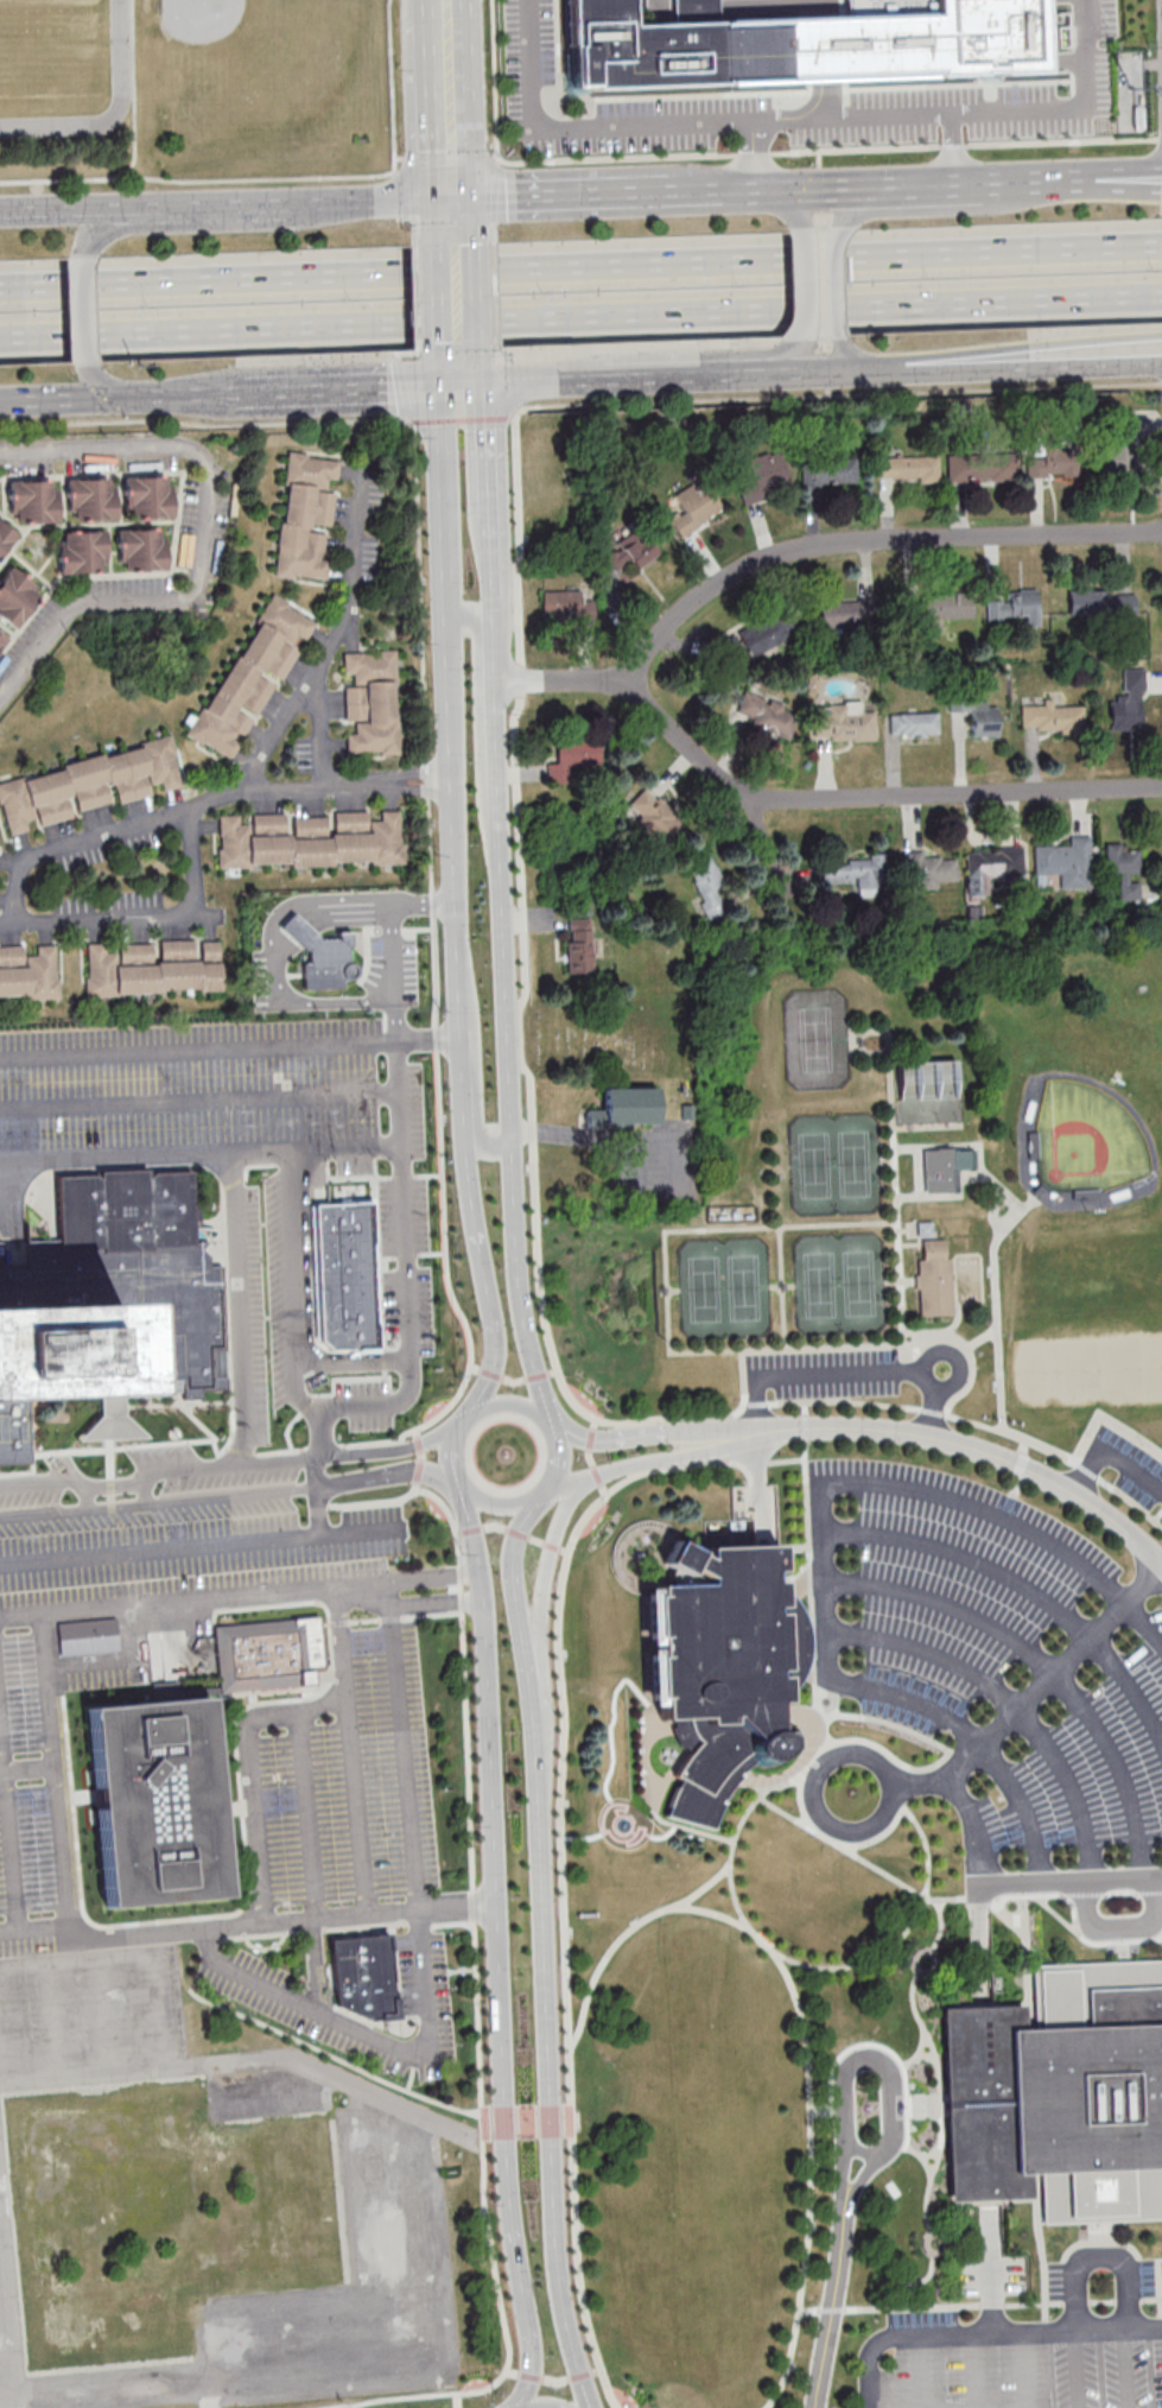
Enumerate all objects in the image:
building: (1077, 2)
road: (445, 5)
building: (944, 37)
road: (826, 42)
building: (700, 46)
park: (224, 47)
road: (494, 78)
road: (388, 84)
road: (133, 90)
road: (449, 104)
road: (1040, 109)
road: (114, 114)
road: (808, 116)
road: (889, 116)
road: (615, 123)
road: (828, 148)
road: (497, 159)
road: (452, 166)
road: (1119, 167)
road: (394, 172)
road: (1029, 178)
road: (967, 179)
road: (196, 180)
road: (907, 182)
road: (815, 185)
traffic signals: (782, 186)
road: (717, 188)
road: (1119, 189)
road: (557, 194)
traffic signals: (452, 198)
road: (385, 199)
road: (252, 204)
road: (794, 208)
road: (93, 209)
road: (953, 209)
road: (452, 221)
road: (223, 224)
road: (413, 233)
road: (493, 234)
road: (580, 266)
road: (494, 268)
road: (414, 272)
road: (838, 283)
road: (808, 285)
road: (456, 297)
road: (85, 309)
road: (580, 316)
road: (495, 319)
road: (417, 322)
road: (1017, 346)
road: (496, 351)
road: (418, 353)
road: (846, 355)
road: (794, 356)
road: (458, 367)
road: (1020, 367)
road: (864, 372)
road: (815, 374)
road: (697, 379)
road: (101, 382)
road: (506, 384)
road: (535, 385)
traffic signals: (459, 386)
road: (347, 388)
road: (836, 394)
road: (118, 398)
traffic signals: (121, 398)
road: (430, 419)
road: (204, 425)
road: (485, 452)
road: (179, 454)
building: (1115, 457)
building: (1053, 464)
building: (982, 467)
building: (908, 468)
building: (828, 471)
building: (764, 477)
building: (146, 498)
road: (445, 498)
building: (90, 499)
building: (33, 501)
building: (694, 507)
building: (304, 517)
building: (5, 537)
building: (140, 550)
road: (801, 551)
building: (81, 552)
road: (490, 558)
building: (626, 558)
building: (15, 596)
building: (1100, 603)
building: (563, 604)
building: (946, 606)
building: (1016, 607)
road: (71, 614)
road: (491, 615)
building: (847, 615)
road: (474, 619)
building: (766, 635)
building: (2, 639)
road: (335, 641)
road: (493, 659)
building: (252, 674)
building: (1129, 702)
building: (372, 704)
building: (767, 715)
building: (982, 716)
building: (1052, 717)
building: (843, 723)
building: (914, 724)
road: (494, 739)
building: (577, 760)
building: (88, 785)
road: (872, 798)
road: (207, 805)
building: (653, 816)
road: (457, 826)
building: (311, 841)
road: (770, 850)
building: (1066, 862)
building: (991, 867)
building: (927, 869)
building: (1124, 869)
building: (857, 873)
building: (710, 886)
road: (145, 915)
road: (521, 926)
building: (364, 937)
road: (395, 943)
building: (579, 945)
building: (153, 968)
building: (28, 972)
road: (502, 975)
road: (868, 1037)
park: (817, 1041)
road: (231, 1050)
building: (927, 1077)
parking lot: (195, 1082)
road: (465, 1091)
road: (400, 1094)
park: (929, 1094)
building: (1029, 1110)
building: (624, 1111)
building: (687, 1114)
road: (928, 1128)
park: (1086, 1139)
road: (661, 1142)
road: (488, 1149)
road: (971, 1152)
road: (887, 1164)
park: (833, 1166)
building: (1031, 1166)
road: (921, 1173)
road: (230, 1191)
road: (895, 1191)
building: (1120, 1195)
road: (948, 1196)
road: (474, 1209)
road: (993, 1216)
building: (925, 1230)
road: (406, 1267)
park: (1103, 1274)
road: (519, 1279)
park: (969, 1279)
building: (933, 1281)
road: (893, 1284)
park: (840, 1285)
road: (782, 1287)
road: (782, 1288)
park: (725, 1289)
road: (674, 1293)
road: (667, 1294)
building: (107, 1298)
parking lot: (325, 1299)
road: (996, 1312)
road: (955, 1320)
road: (494, 1336)
road: (983, 1341)
road: (970, 1354)
road: (958, 1362)
park: (1088, 1373)
parking lot: (826, 1375)
road: (761, 1377)
road: (488, 1396)
road: (933, 1413)
road: (698, 1419)
road: (1109, 1422)
road: (966, 1424)
road: (649, 1432)
road: (566, 1438)
road: (963, 1447)
road: (344, 1453)
road: (589, 1458)
road: (1110, 1458)
road: (646, 1464)
road: (452, 1465)
road: (700, 1466)
road: (195, 1469)
parking lot: (1130, 1470)
road: (40, 1482)
road: (116, 1483)
road: (303, 1487)
road: (147, 1489)
road: (85, 1494)
road: (116, 1504)
road: (514, 1506)
road: (45, 1510)
road: (1009, 1523)
parking lot: (199, 1536)
road: (356, 1536)
road: (516, 1536)
road: (793, 1550)
road: (188, 1551)
road: (546, 1563)
road: (793, 1576)
road: (809, 1577)
road: (823, 1580)
road: (802, 1582)
road: (1023, 1590)
road: (189, 1602)
road: (519, 1612)
road: (23, 1617)
building: (88, 1636)
road: (788, 1637)
building: (268, 1654)
parking lot: (995, 1662)
road: (1044, 1665)
building: (720, 1669)
road: (814, 1674)
park: (874, 1686)
road: (1030, 1693)
road: (642, 1702)
road: (1010, 1703)
road: (256, 1716)
road: (973, 1741)
road: (402, 1749)
road: (926, 1769)
parking lot: (342, 1782)
road: (902, 1785)
parking lot: (28, 1798)
building: (158, 1802)
road: (357, 1814)
road: (623, 1814)
road: (602, 1815)
road: (310, 1818)
fountain: (622, 1824)
road: (631, 1831)
road: (842, 1831)
road: (624, 1839)
road: (633, 1842)
road: (496, 1845)
road: (8, 1851)
road: (1071, 1882)
road: (979, 1886)
road: (701, 1887)
road: (945, 1901)
road: (1074, 1914)
road: (1007, 1916)
road: (940, 1928)
road: (36, 1932)
road: (1124, 1933)
road: (169, 1934)
road: (1091, 1944)
road: (563, 1947)
road: (1123, 1952)
road: (1026, 1963)
road: (915, 1967)
road: (809, 1969)
building: (363, 1976)
road: (787, 1982)
parking lot: (353, 1988)
building: (1097, 1996)
road: (370, 2023)
road: (548, 2032)
road: (875, 2047)
road: (917, 2054)
road: (263, 2057)
road: (875, 2057)
road: (926, 2057)
building: (1093, 2097)
road: (938, 2100)
building: (985, 2104)
road: (926, 2106)
road: (922, 2156)
road: (926, 2166)
building: (1100, 2193)
road: (1101, 2233)
road: (1101, 2244)
road: (927, 2250)
road: (1040, 2252)
road: (1099, 2257)
road: (991, 2275)
parking lot: (991, 2277)
parking lot: (1141, 2281)
road: (915, 2283)
parking lot: (1061, 2285)
road: (1160, 2294)
road: (838, 2302)
road: (526, 2306)
road: (1004, 2306)
road: (832, 2309)
road: (6, 2325)
road: (986, 2334)
road: (431, 2350)
road: (788, 2352)
parking lot: (1014, 2368)
road: (1130, 2369)
road: (1026, 2370)
road: (1078, 2370)
road: (971, 2371)
road: (920, 2372)
road: (552, 2378)
road: (119, 2391)
road: (885, 2406)

